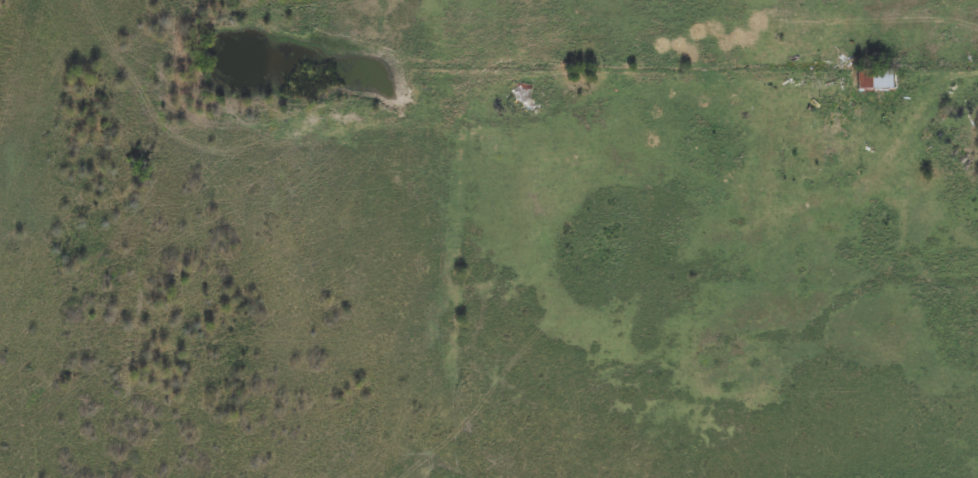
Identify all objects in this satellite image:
building: (877, 79)
road: (955, 79)
building: (522, 95)

